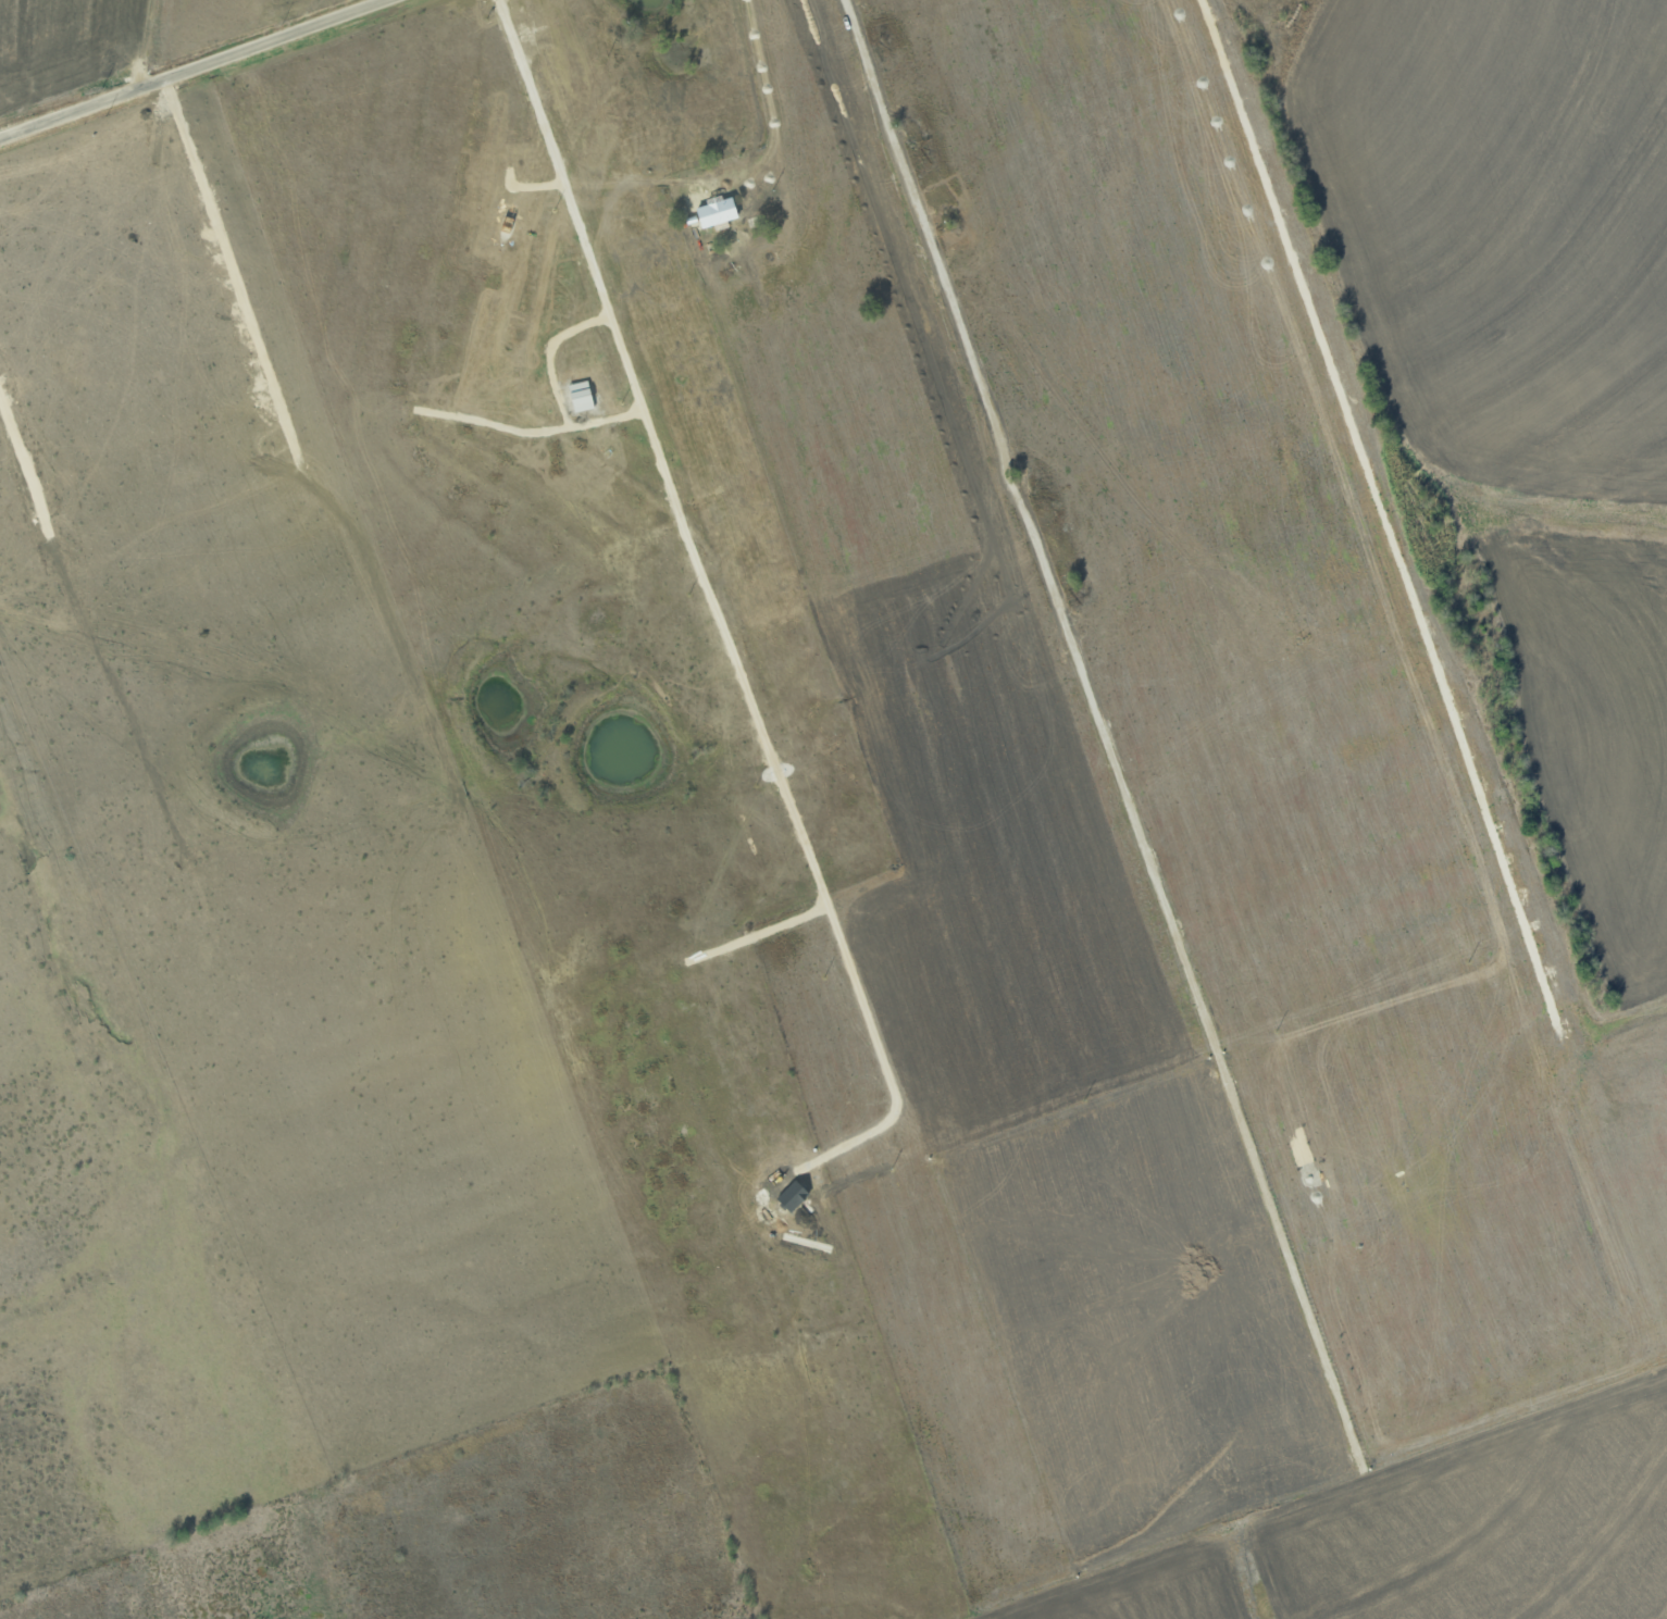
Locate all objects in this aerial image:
road: (191, 69)

